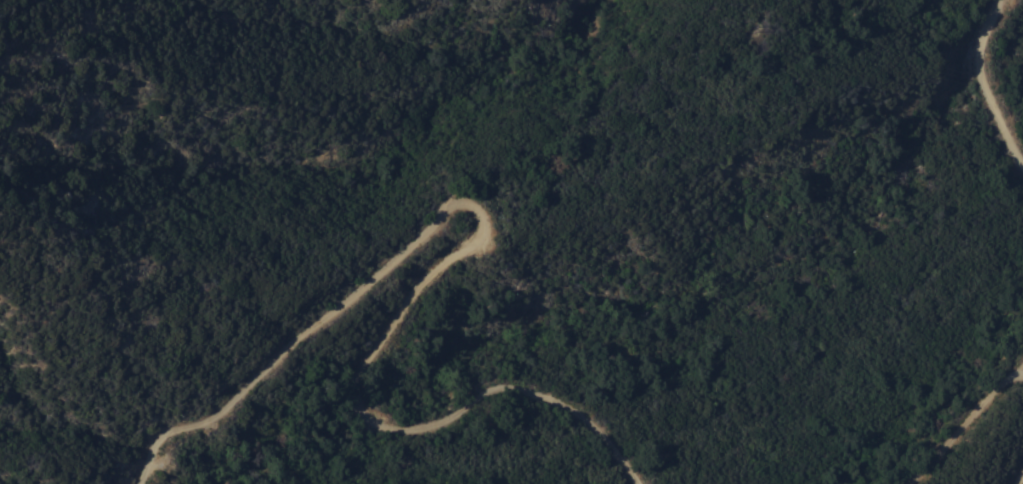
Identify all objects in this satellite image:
road: (984, 84)
road: (447, 260)
road: (960, 424)
road: (1020, 478)

